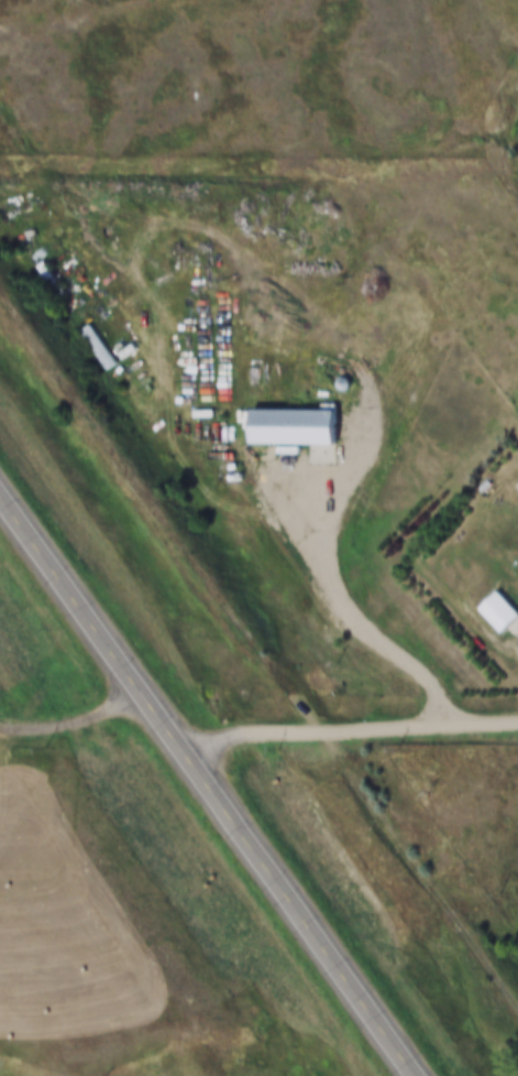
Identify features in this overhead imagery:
building: (91, 344)
building: (335, 382)
silo: (335, 382)
building: (284, 426)
road: (344, 602)
building: (489, 611)
road: (75, 721)
road: (348, 730)
road: (210, 784)

